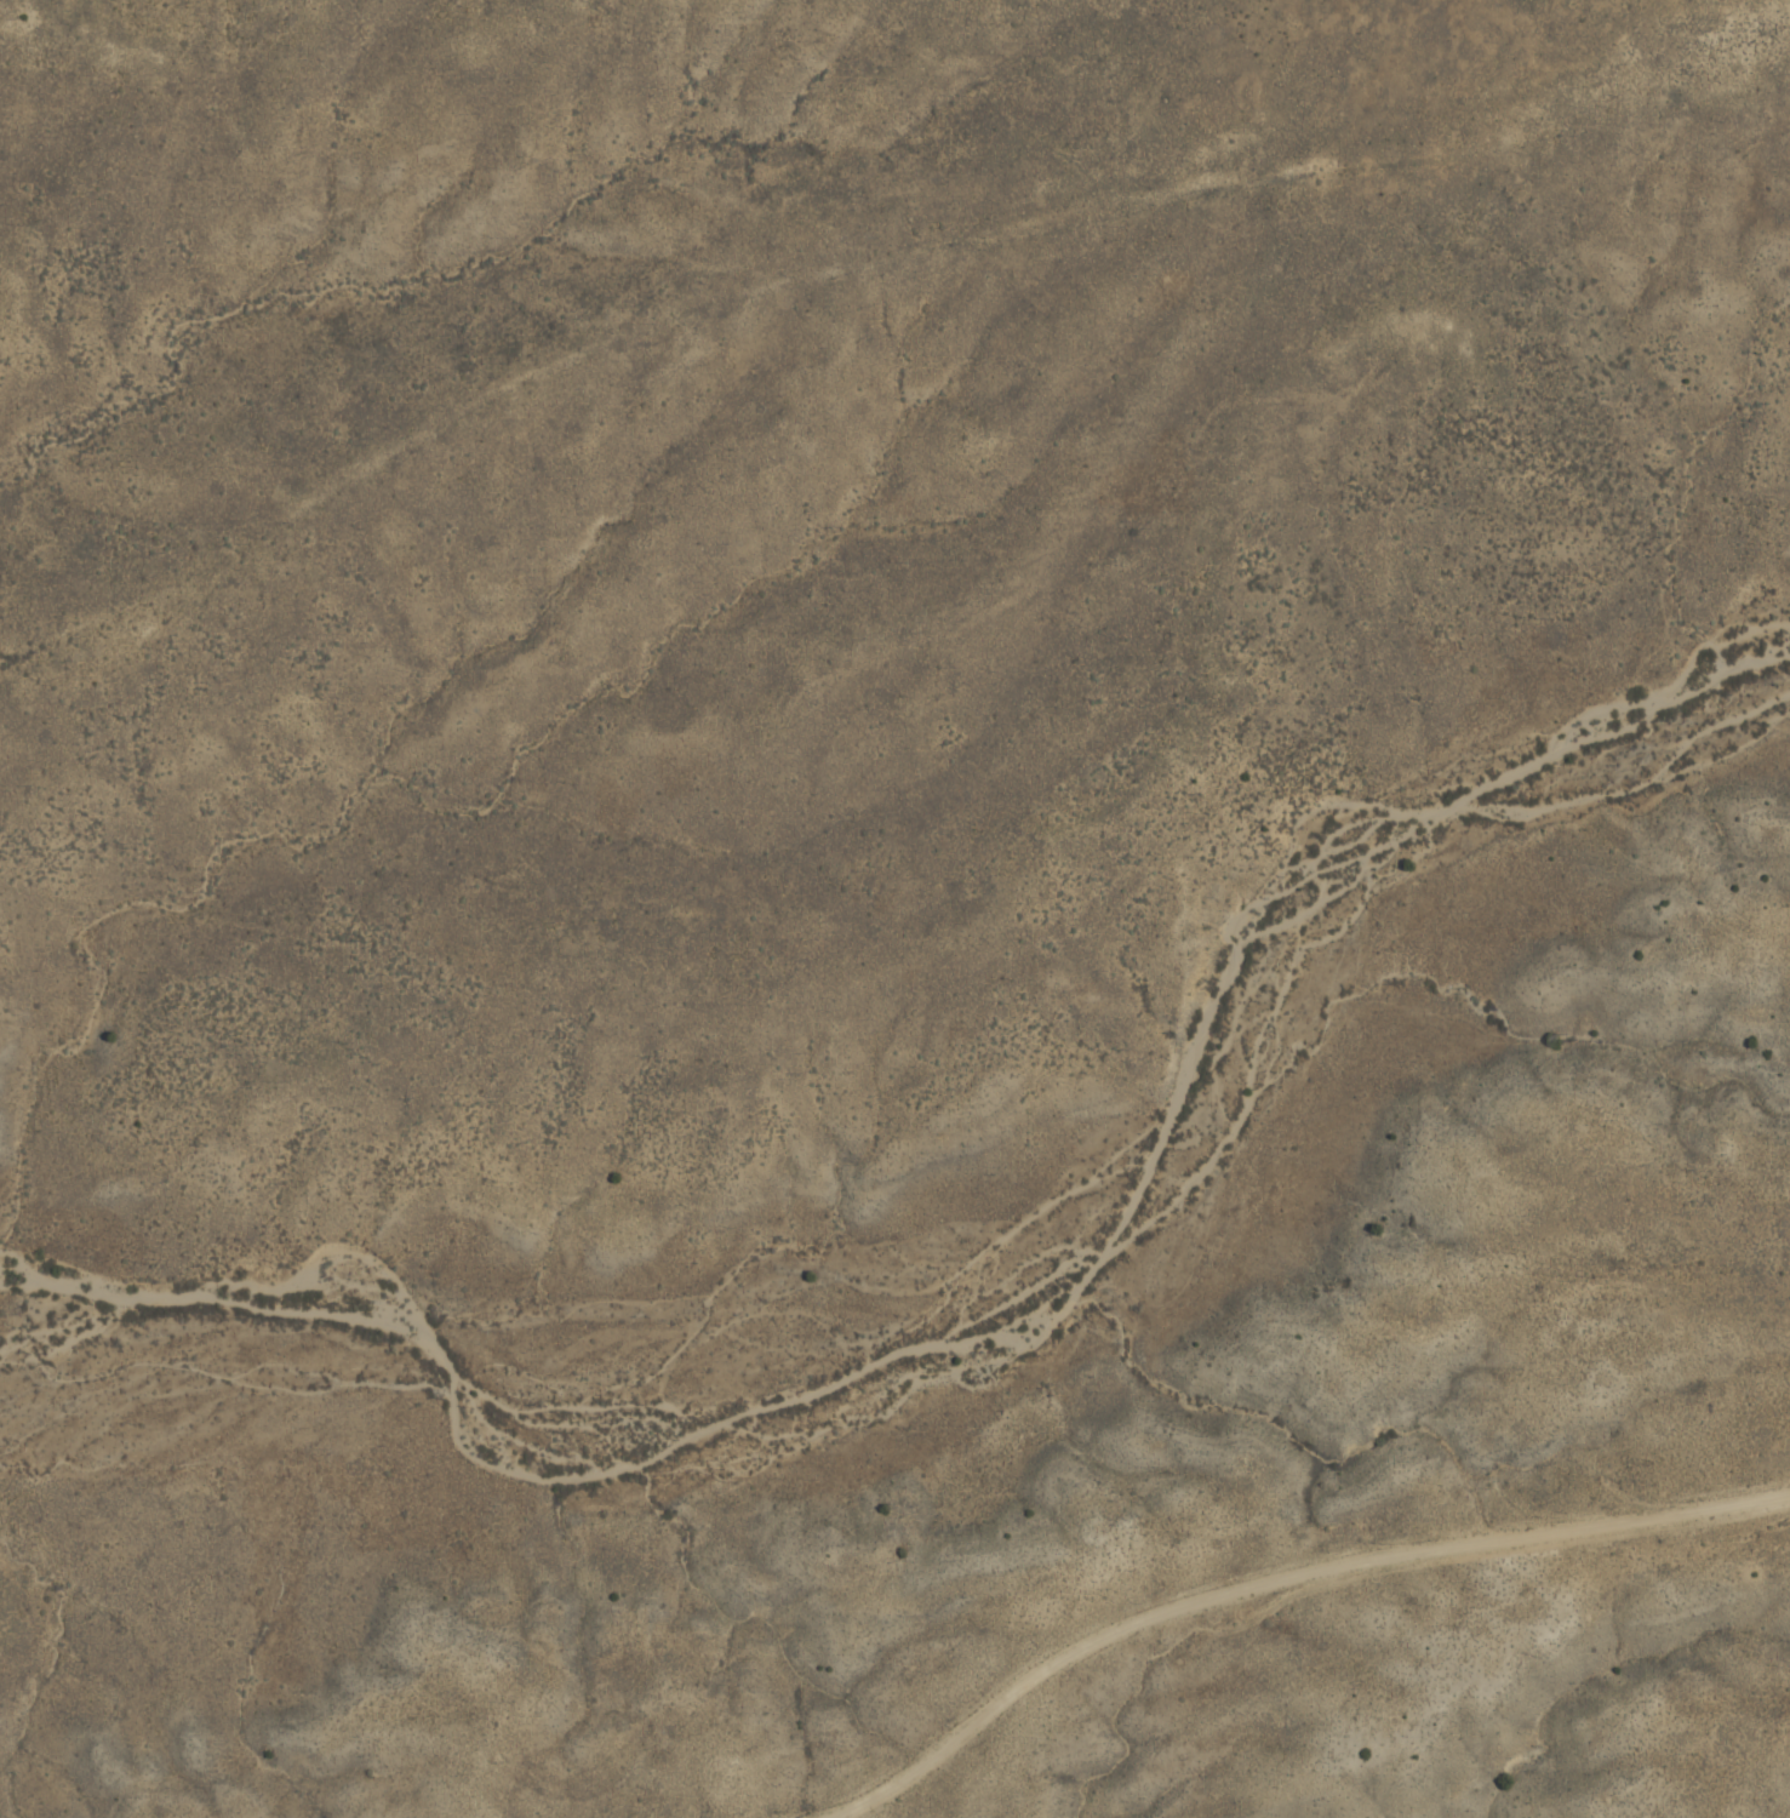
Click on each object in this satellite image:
road: (1275, 1591)

